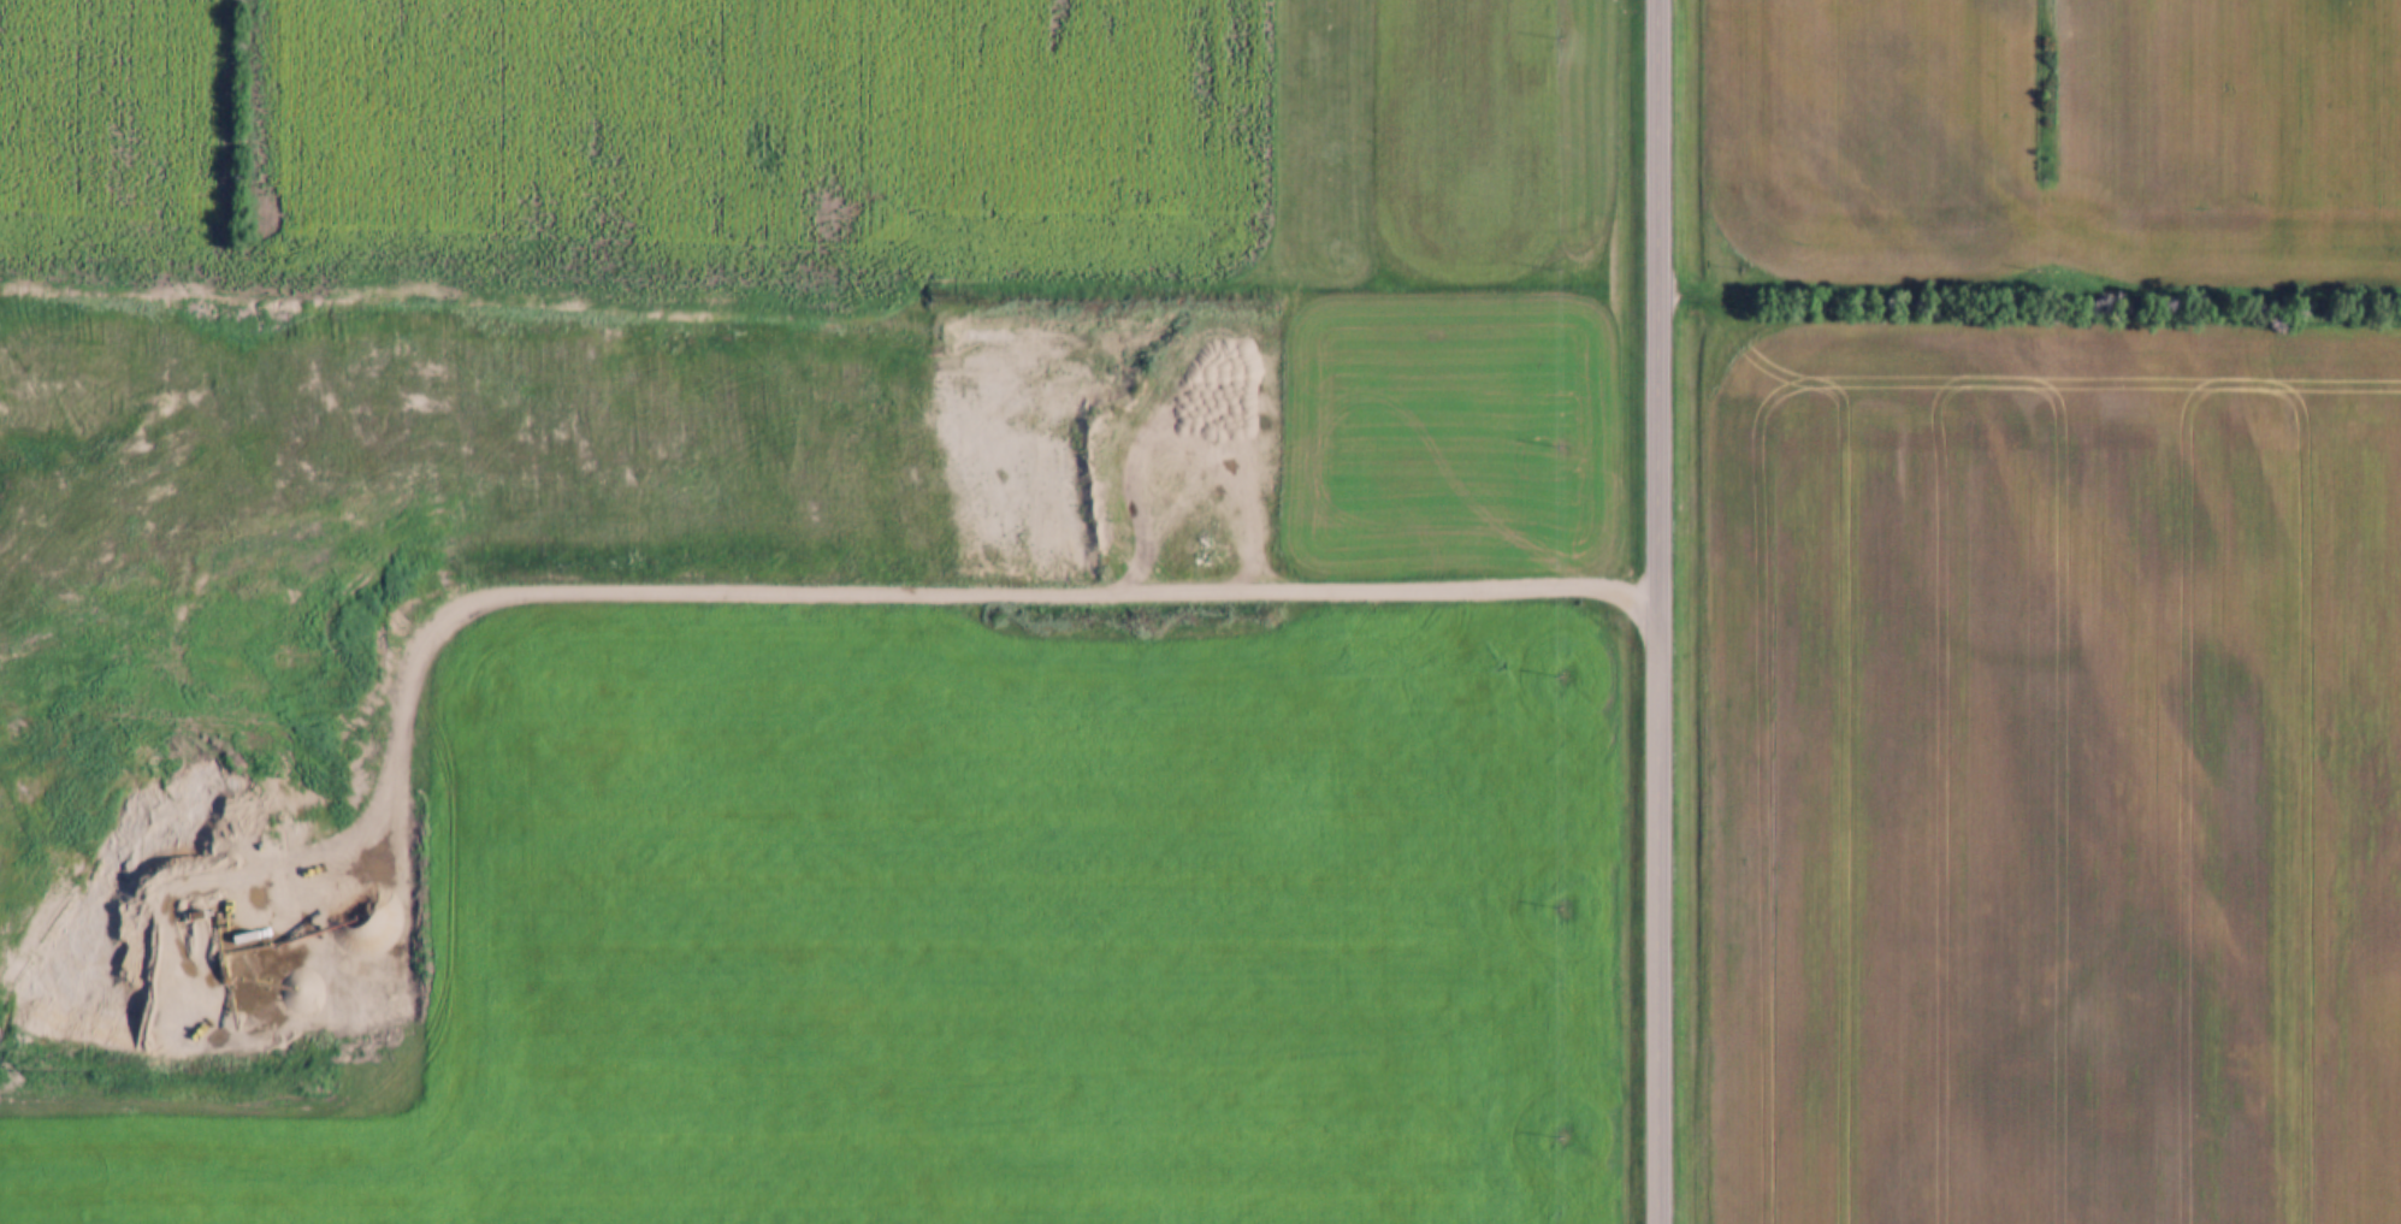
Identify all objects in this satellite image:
airport runway: (1323, 131)
airport: (1323, 135)
quarry: (561, 513)
road: (746, 585)
road: (1657, 611)

